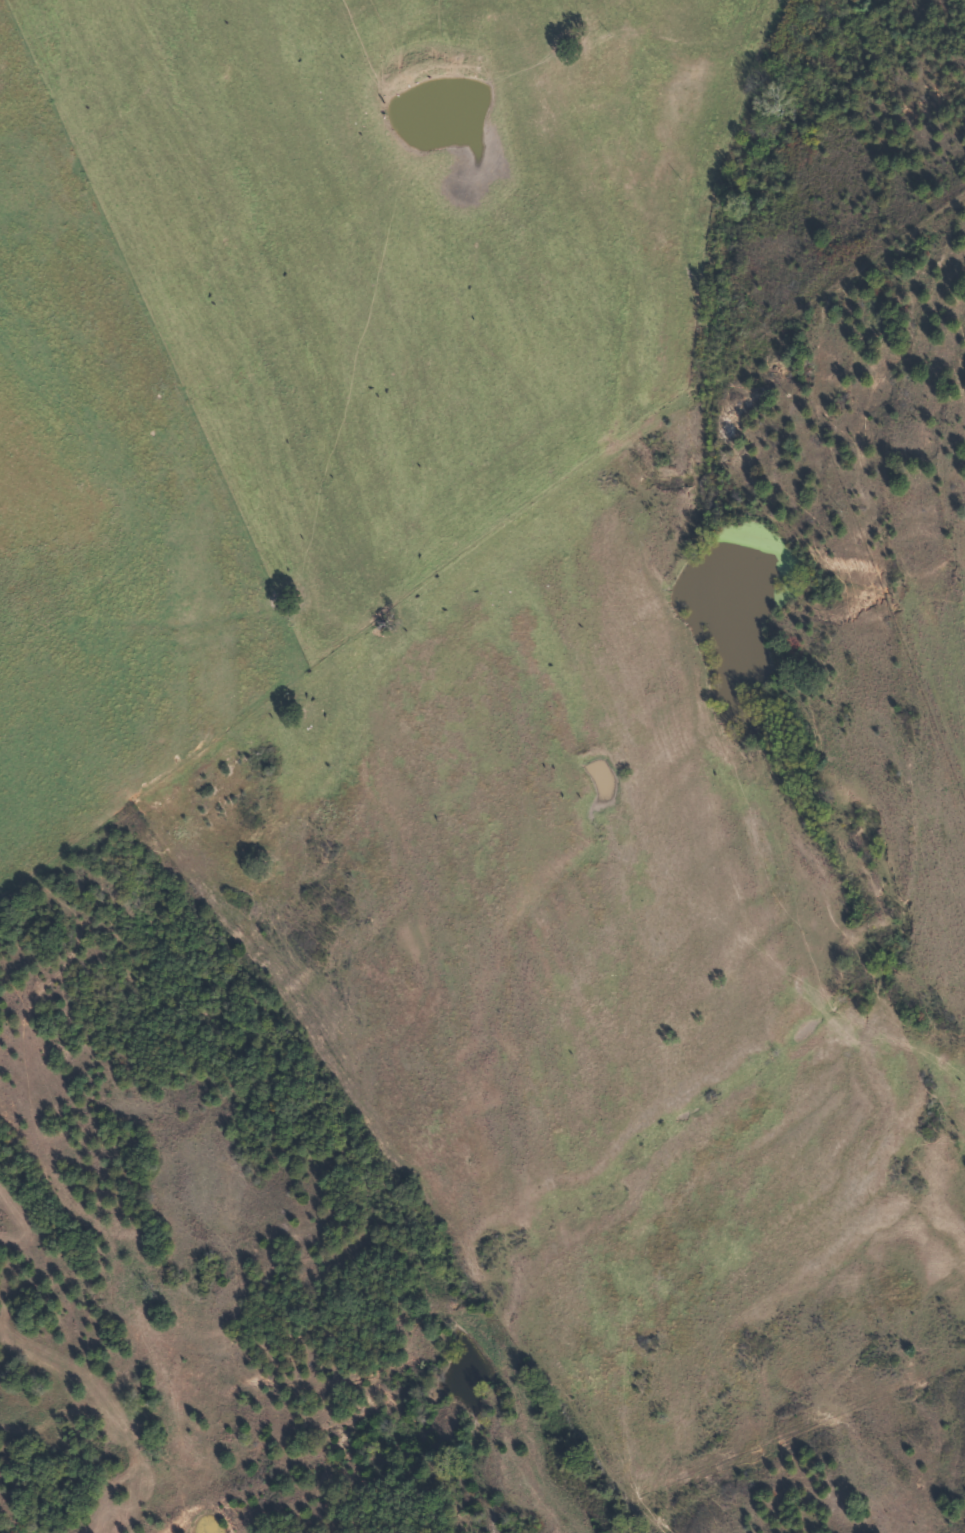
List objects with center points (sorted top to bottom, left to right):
road: (963, 1)
road: (646, 111)

